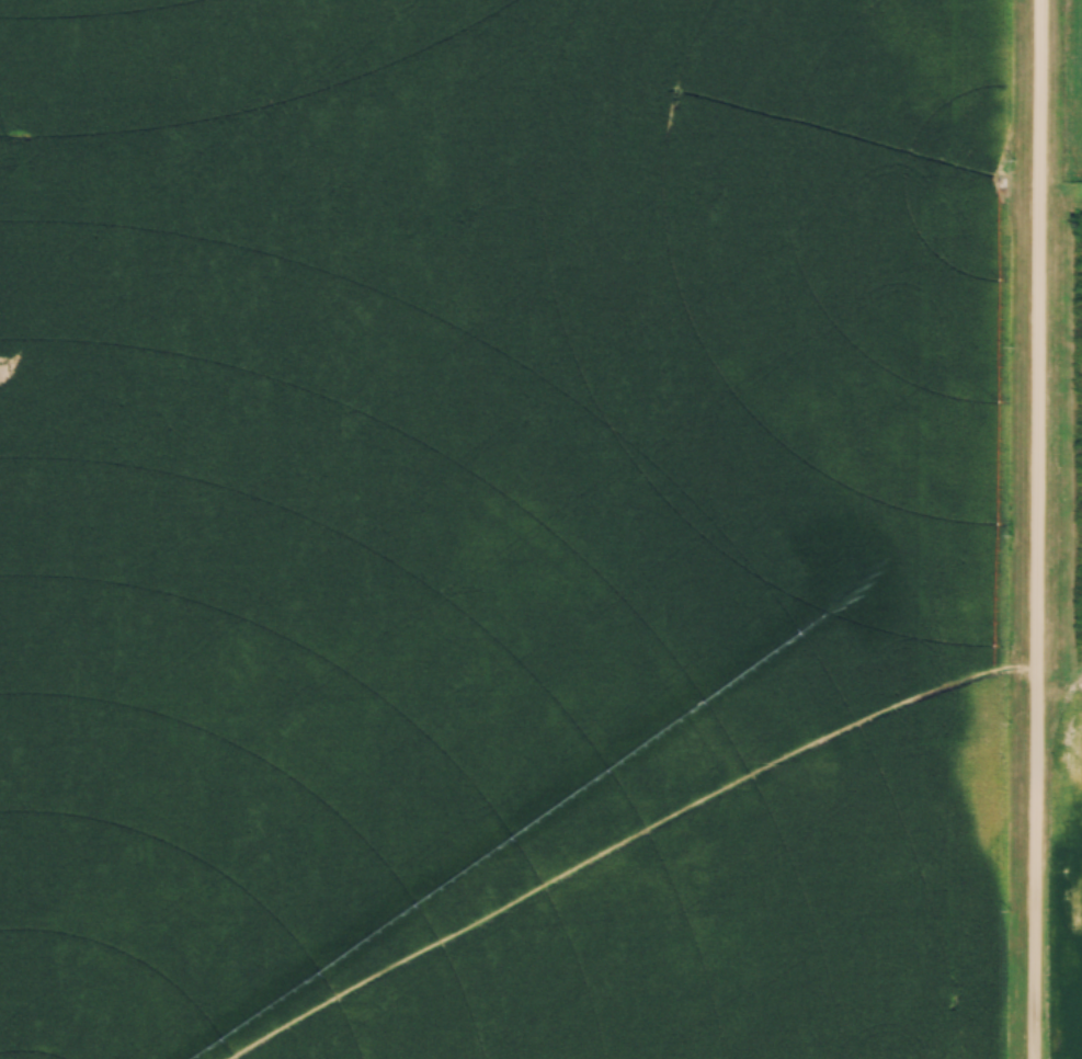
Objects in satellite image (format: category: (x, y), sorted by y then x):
road: (1034, 528)

